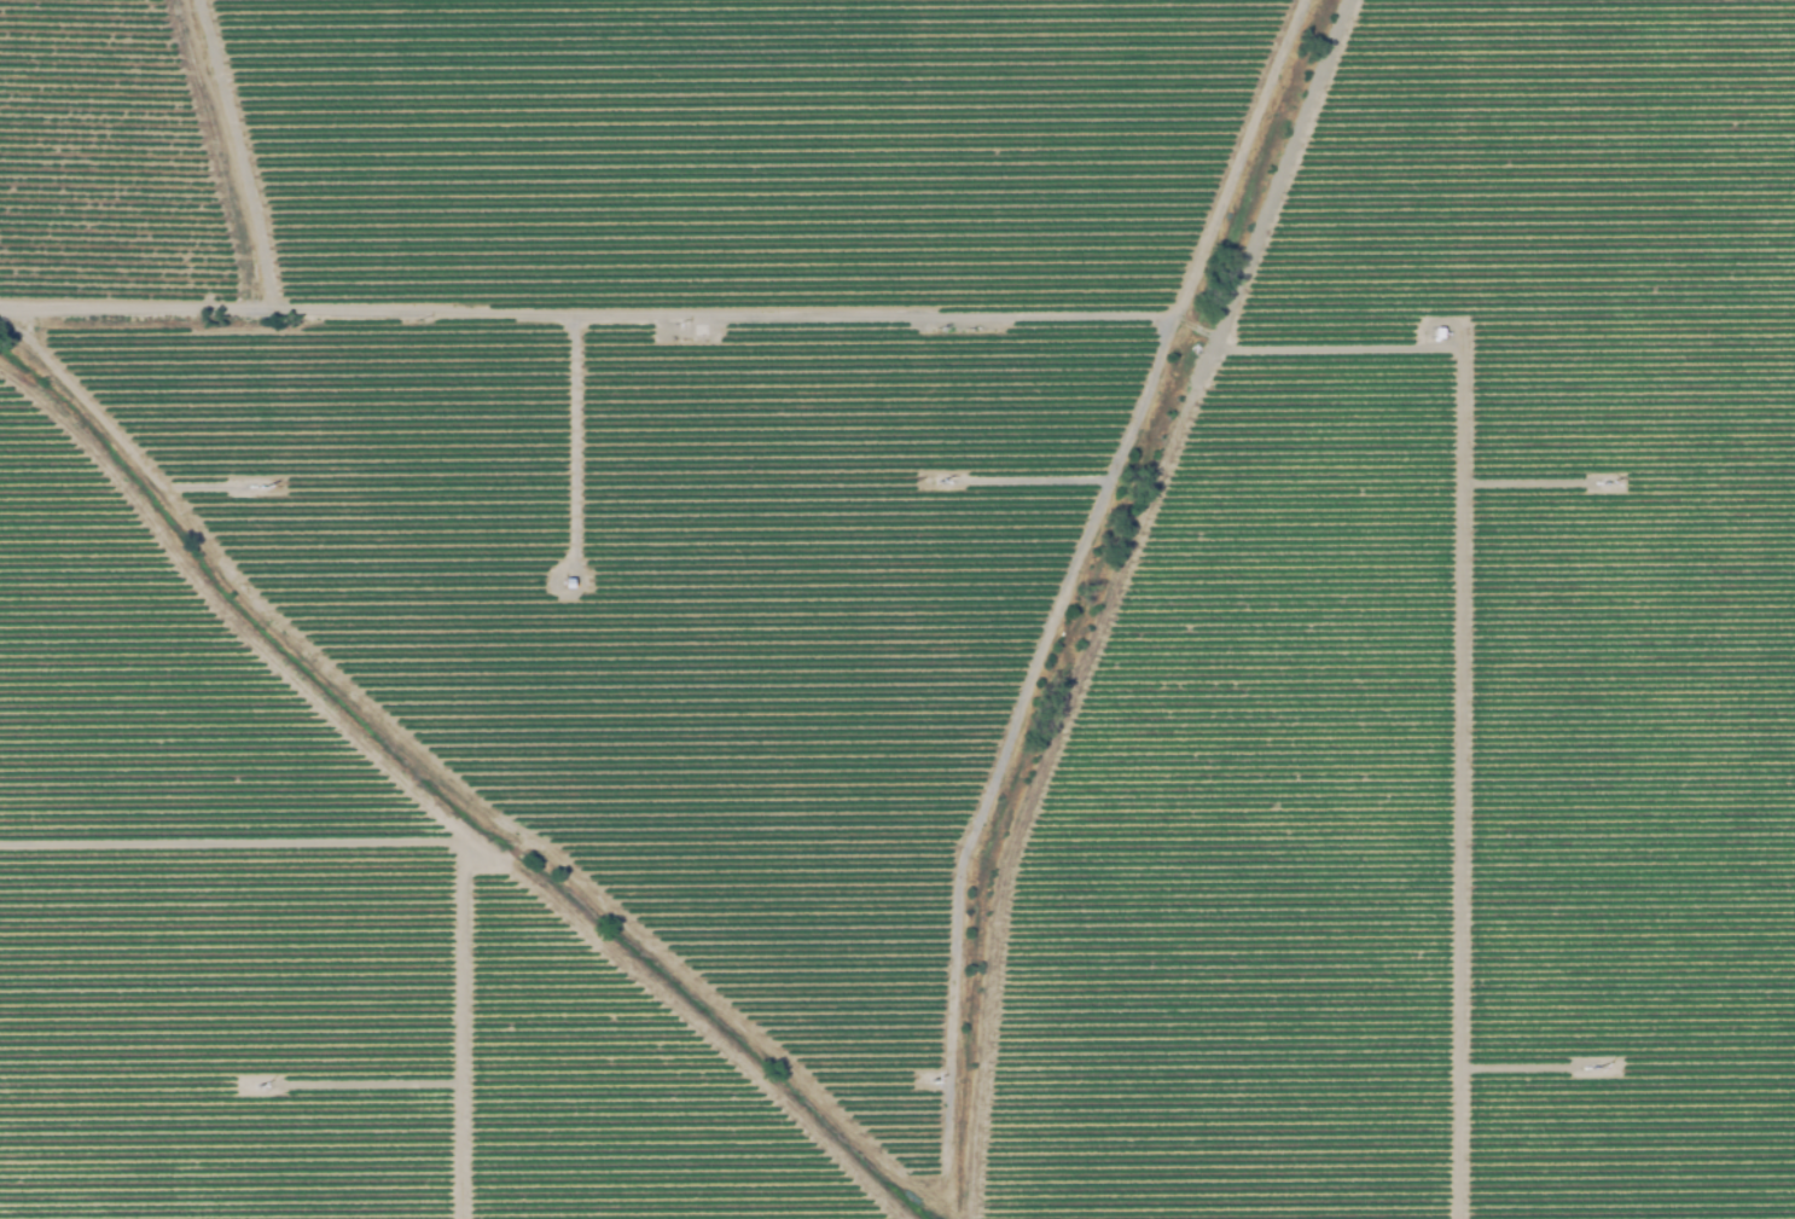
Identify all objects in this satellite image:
building: (1433, 335)

